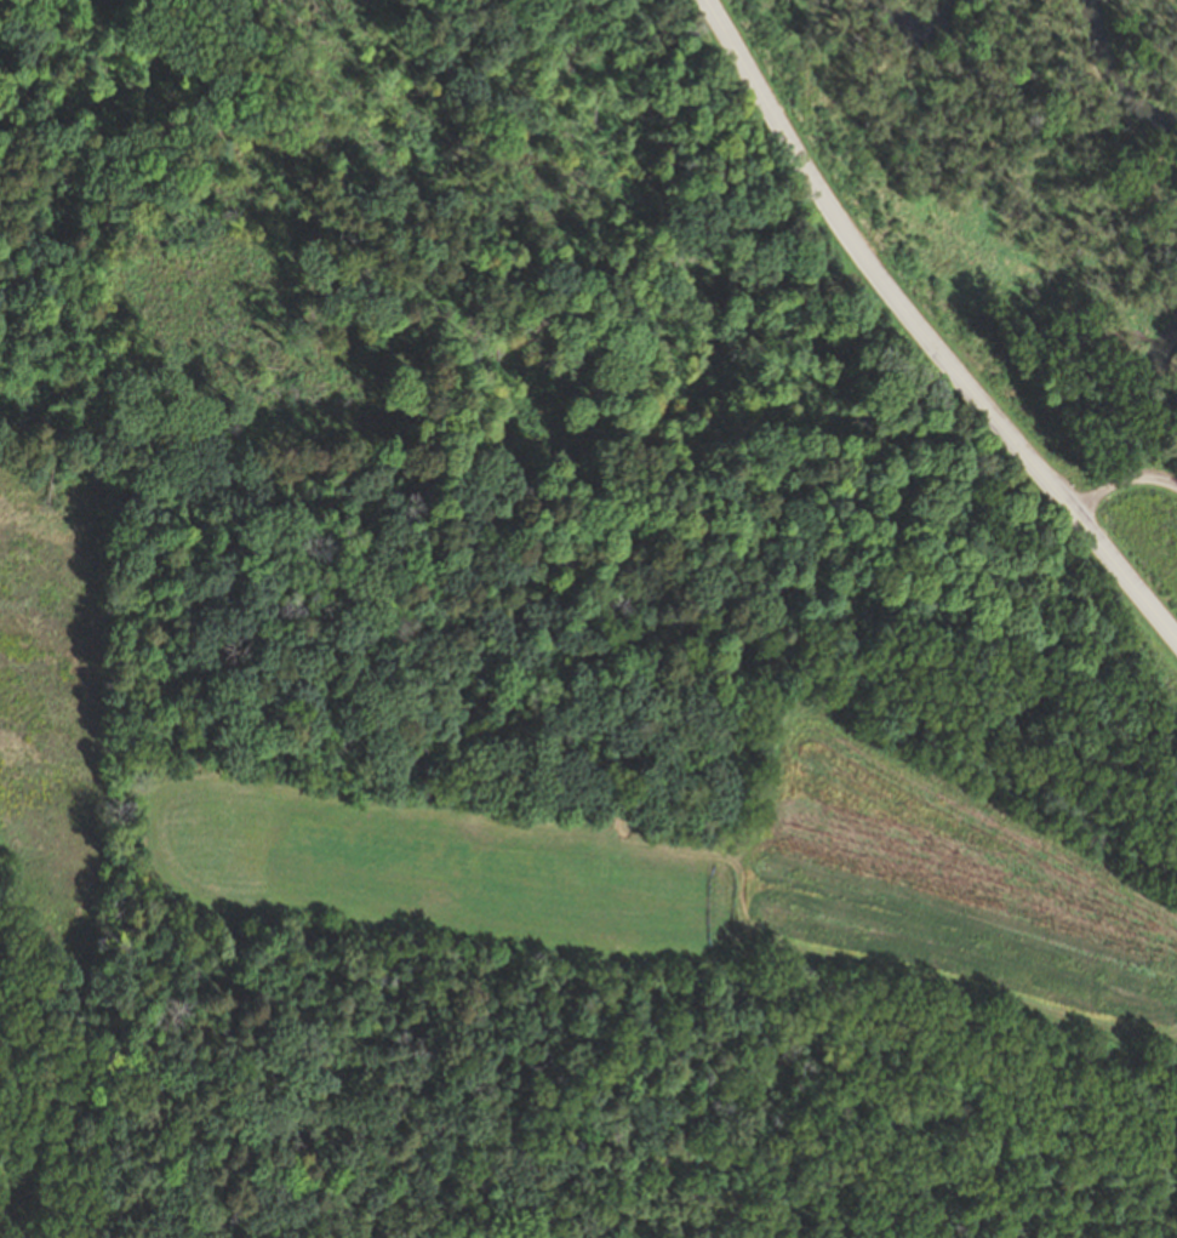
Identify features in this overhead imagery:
river: (920, 5)
river: (1137, 39)
road: (921, 333)
road: (1122, 483)

